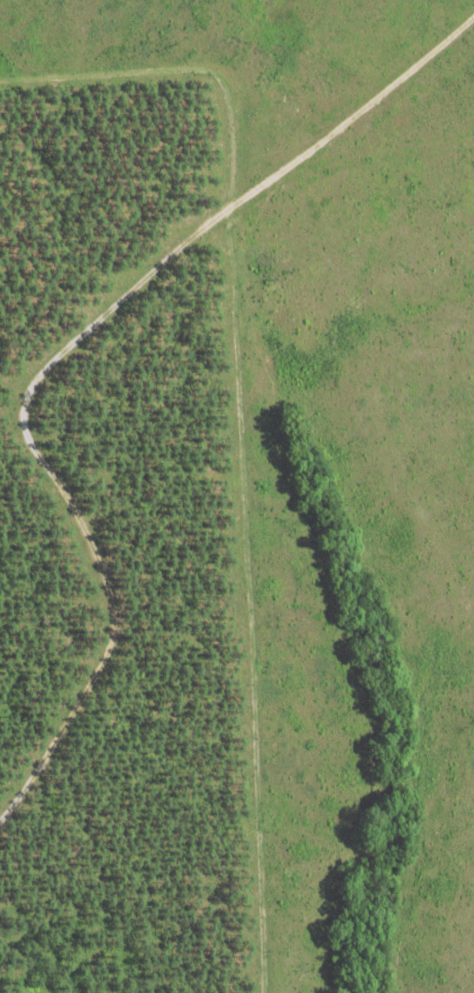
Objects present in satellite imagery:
road: (61, 324)

